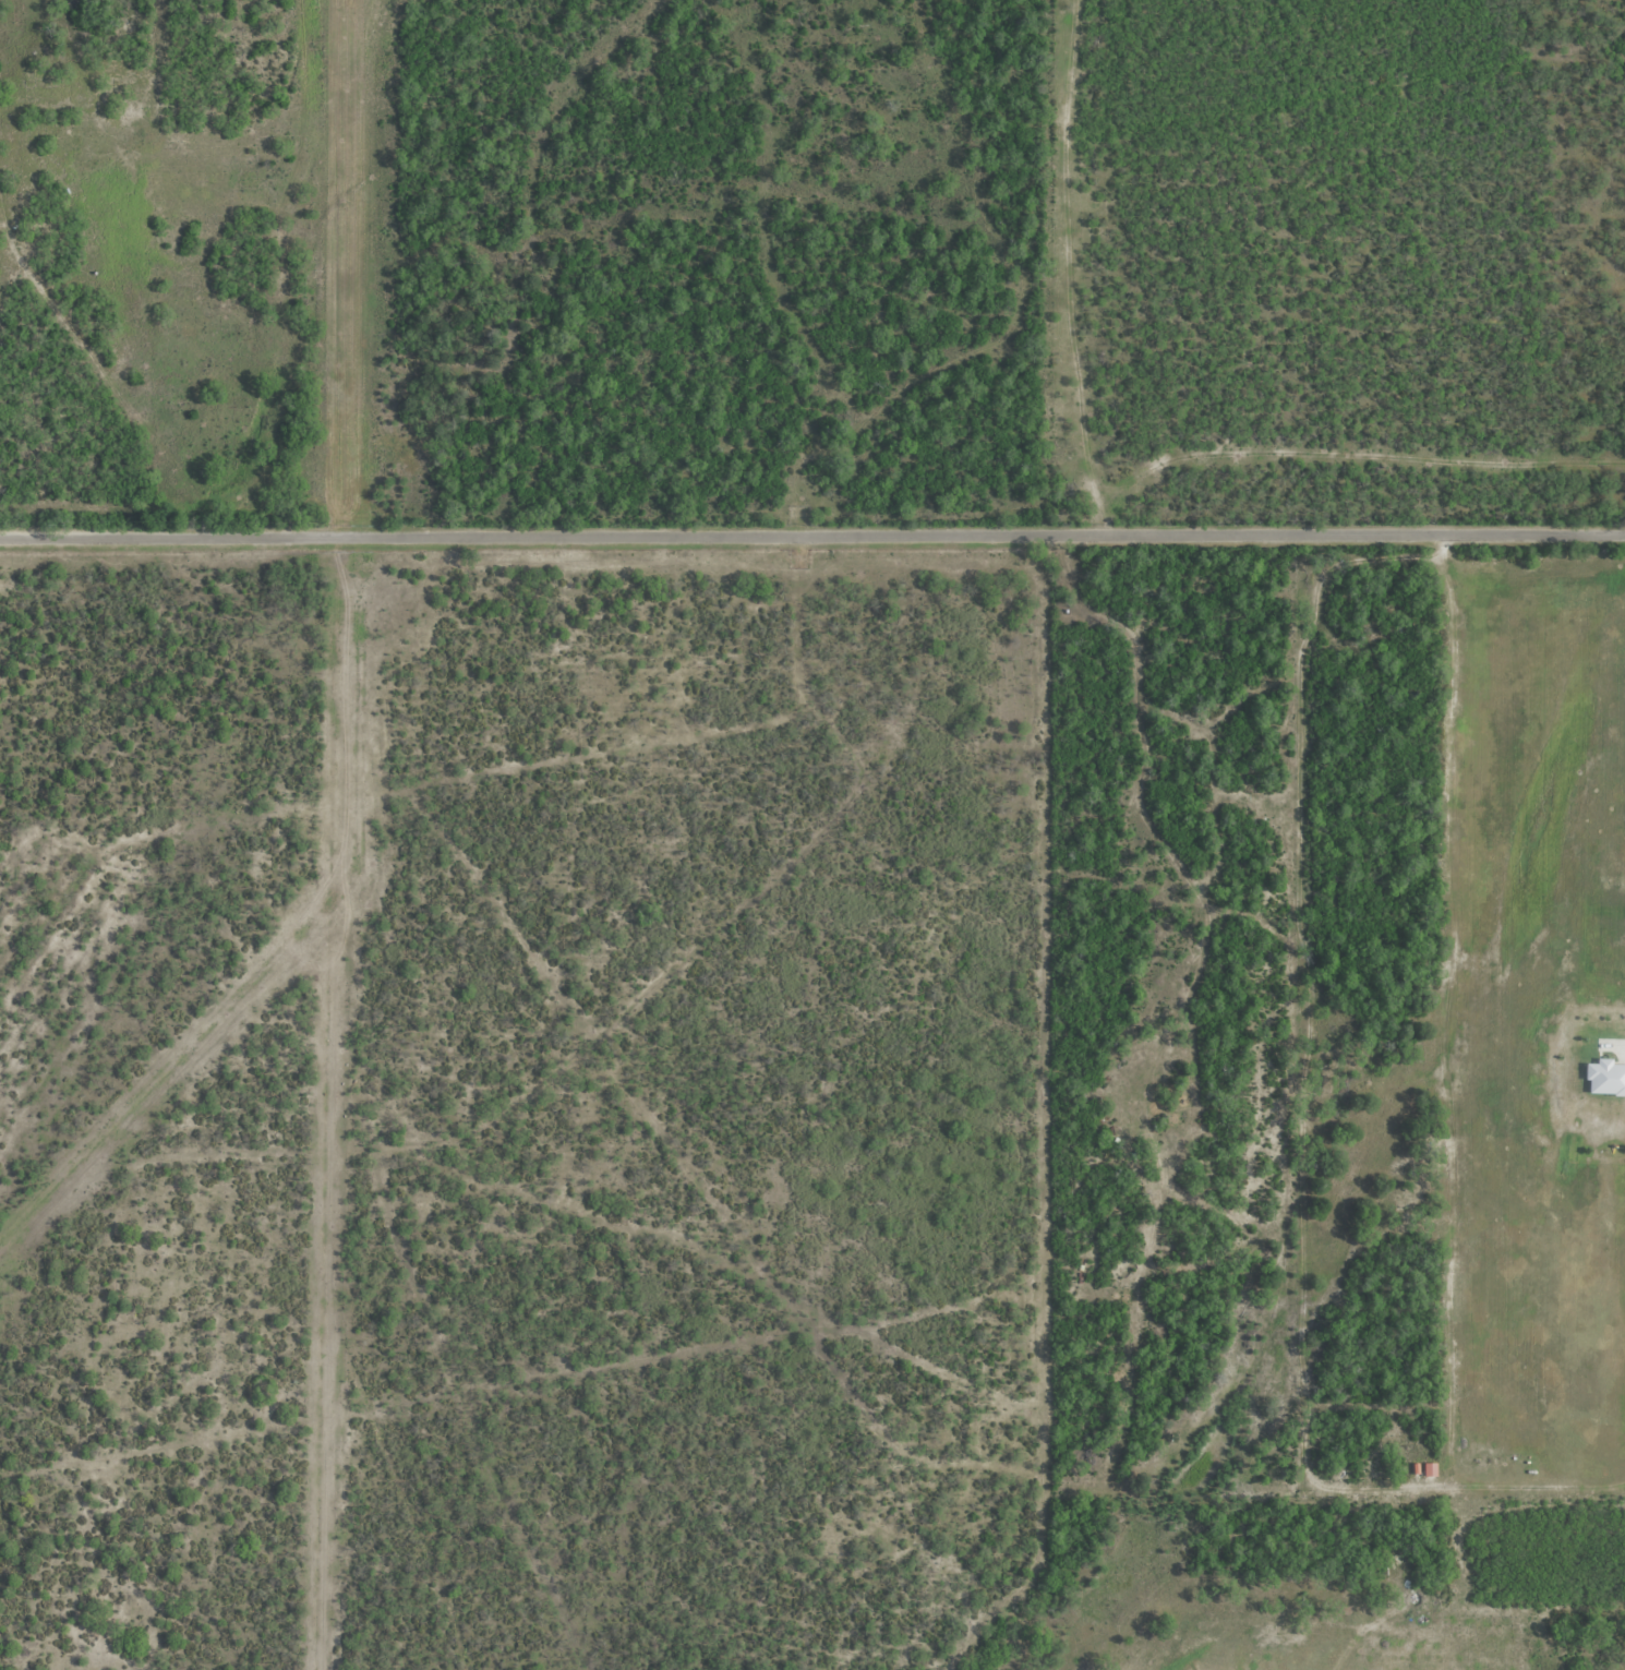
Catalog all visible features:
road: (812, 538)
building: (1606, 1078)
building: (1416, 1467)
building: (1430, 1467)

